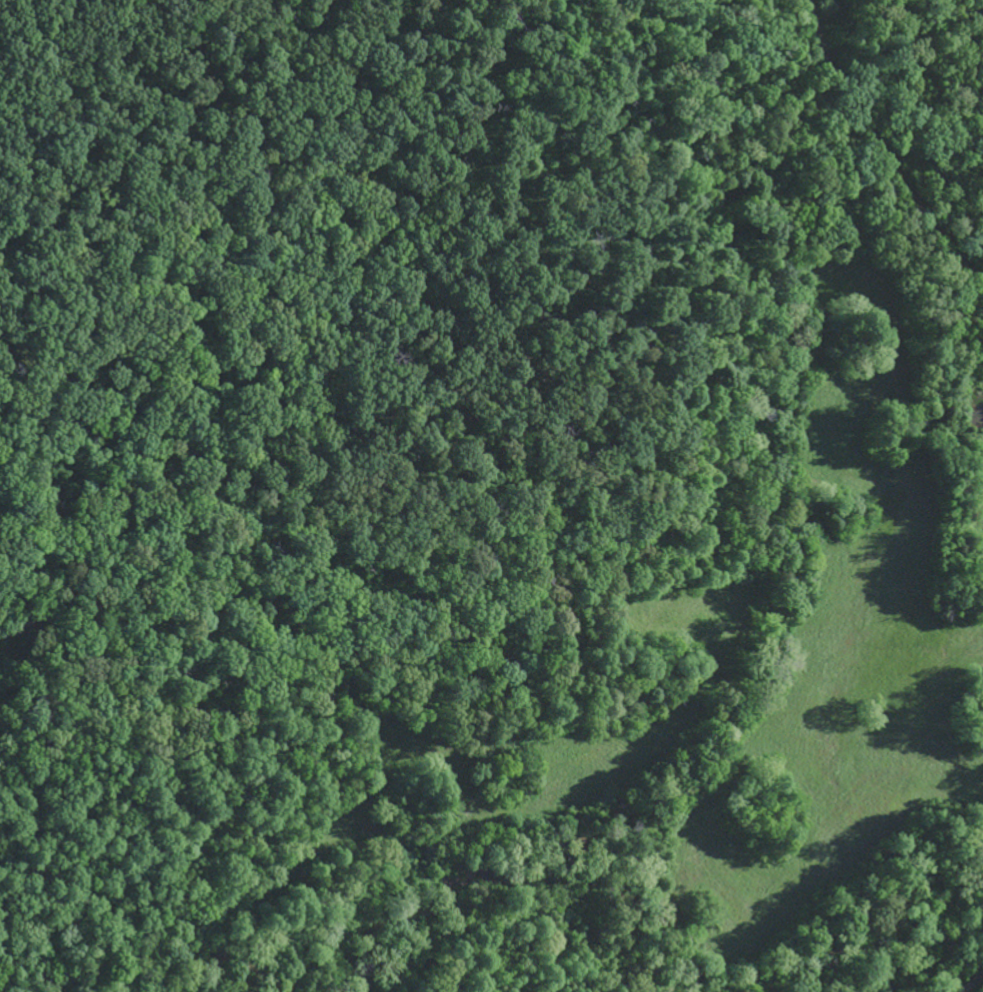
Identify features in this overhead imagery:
road: (883, 149)
road: (971, 983)

